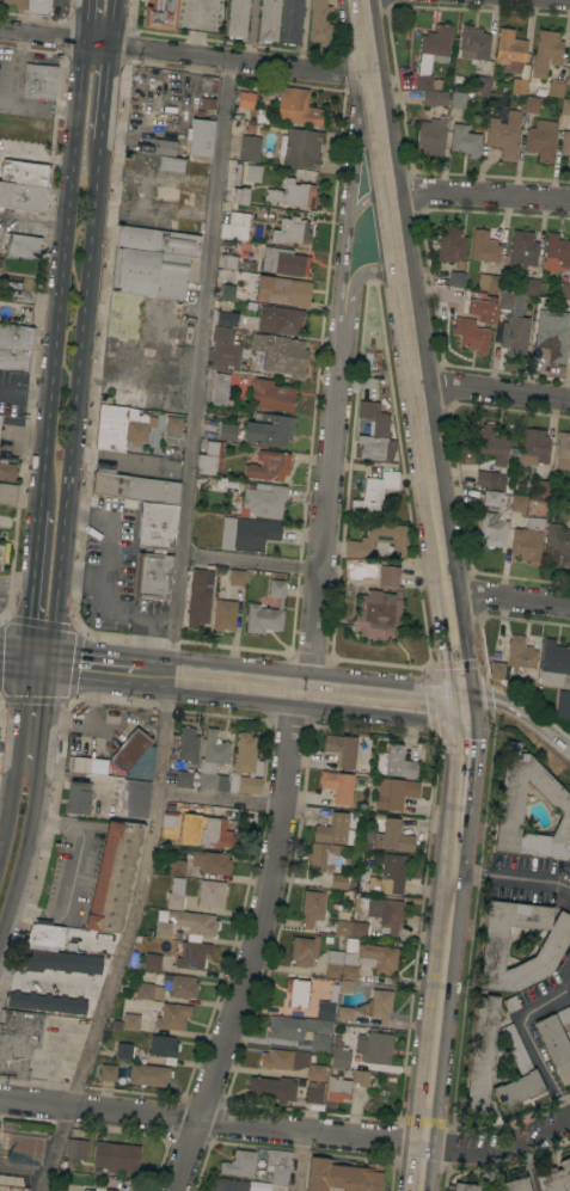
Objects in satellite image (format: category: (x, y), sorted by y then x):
building: (31, 6)
building: (159, 13)
building: (237, 18)
road: (86, 19)
building: (269, 20)
road: (114, 22)
building: (292, 22)
building: (320, 22)
building: (474, 42)
building: (509, 50)
building: (546, 51)
road: (186, 53)
building: (431, 53)
building: (569, 65)
building: (569, 78)
building: (39, 81)
building: (208, 84)
building: (437, 84)
building: (483, 84)
building: (519, 85)
building: (554, 88)
road: (106, 96)
building: (434, 97)
building: (458, 99)
building: (531, 104)
building: (244, 105)
building: (296, 106)
building: (565, 106)
building: (504, 134)
building: (431, 135)
building: (541, 139)
building: (200, 140)
building: (465, 140)
building: (565, 145)
building: (164, 146)
building: (250, 147)
building: (300, 147)
road: (35, 159)
building: (183, 165)
building: (24, 172)
building: (253, 172)
building: (238, 186)
building: (172, 194)
building: (292, 194)
building: (22, 196)
road: (478, 196)
road: (348, 199)
road: (367, 199)
building: (137, 223)
building: (185, 226)
building: (237, 226)
building: (292, 231)
building: (157, 240)
building: (452, 245)
building: (22, 246)
building: (484, 246)
building: (522, 250)
building: (556, 253)
building: (284, 260)
building: (229, 262)
building: (249, 264)
road: (61, 266)
building: (149, 272)
building: (456, 278)
road: (356, 280)
building: (489, 282)
building: (531, 286)
building: (564, 289)
building: (227, 290)
building: (283, 290)
building: (472, 296)
building: (505, 300)
building: (480, 311)
building: (124, 314)
building: (223, 318)
building: (280, 319)
building: (552, 333)
building: (514, 334)
building: (17, 336)
building: (473, 336)
building: (223, 349)
road: (411, 350)
building: (281, 354)
building: (14, 358)
road: (492, 386)
building: (220, 388)
building: (271, 395)
building: (149, 397)
road: (75, 405)
building: (0, 417)
building: (173, 422)
building: (121, 426)
building: (269, 429)
building: (227, 431)
building: (374, 432)
building: (492, 441)
building: (534, 447)
building: (563, 450)
building: (210, 459)
building: (269, 466)
building: (7, 471)
building: (490, 479)
building: (135, 486)
building: (520, 486)
building: (508, 487)
building: (544, 487)
building: (374, 492)
building: (7, 493)
building: (569, 496)
building: (491, 497)
building: (264, 499)
building: (504, 502)
building: (519, 503)
road: (323, 505)
building: (569, 511)
building: (154, 523)
building: (494, 528)
building: (253, 533)
building: (378, 540)
building: (528, 540)
road: (37, 541)
building: (556, 547)
building: (0, 550)
road: (249, 557)
building: (0, 564)
building: (153, 575)
building: (237, 577)
road: (82, 578)
road: (105, 583)
road: (17, 587)
road: (508, 595)
building: (200, 596)
building: (380, 606)
building: (266, 610)
building: (223, 614)
road: (30, 624)
road: (171, 632)
road: (13, 657)
traffic signals: (26, 659)
road: (37, 661)
building: (514, 661)
traffic signals: (49, 662)
building: (553, 663)
road: (173, 675)
road: (379, 694)
traffic signals: (461, 701)
building: (563, 707)
road: (519, 711)
road: (43, 719)
building: (188, 744)
building: (341, 748)
road: (569, 748)
road: (17, 750)
building: (134, 755)
road: (468, 761)
building: (394, 762)
building: (78, 763)
building: (246, 765)
building: (207, 766)
building: (337, 785)
building: (394, 792)
building: (78, 797)
building: (133, 797)
road: (219, 798)
building: (510, 805)
building: (171, 822)
building: (333, 830)
building: (215, 834)
building: (396, 836)
road: (458, 846)
building: (321, 855)
road: (23, 858)
building: (212, 861)
building: (177, 864)
building: (385, 874)
building: (112, 876)
road: (513, 877)
building: (338, 880)
building: (176, 894)
building: (212, 894)
building: (384, 914)
building: (331, 915)
building: (186, 923)
building: (50, 935)
road: (253, 943)
building: (551, 946)
building: (305, 950)
building: (194, 954)
building: (380, 957)
building: (60, 960)
building: (149, 962)
building: (341, 964)
building: (179, 986)
building: (147, 990)
building: (298, 992)
building: (47, 1002)
building: (510, 1002)
building: (378, 1005)
building: (344, 1013)
building: (563, 1014)
building: (172, 1017)
building: (133, 1023)
building: (307, 1025)
road: (435, 1030)
road: (528, 1035)
building: (18, 1042)
building: (554, 1045)
building: (374, 1046)
building: (163, 1048)
building: (515, 1048)
building: (123, 1050)
building: (480, 1054)
building: (339, 1055)
building: (290, 1062)
building: (108, 1072)
building: (146, 1074)
building: (360, 1078)
building: (271, 1087)
building: (337, 1088)
building: (314, 1093)
road: (253, 1125)
road: (538, 1132)
building: (24, 1142)
building: (75, 1149)
building: (115, 1156)
road: (300, 1161)
building: (239, 1164)
building: (278, 1165)
building: (339, 1177)
building: (553, 1177)
building: (229, 1184)
building: (516, 1184)
building: (257, 1186)
building: (278, 1186)
building: (465, 1186)
building: (12, 1187)
building: (56, 1187)
building: (109, 1190)

